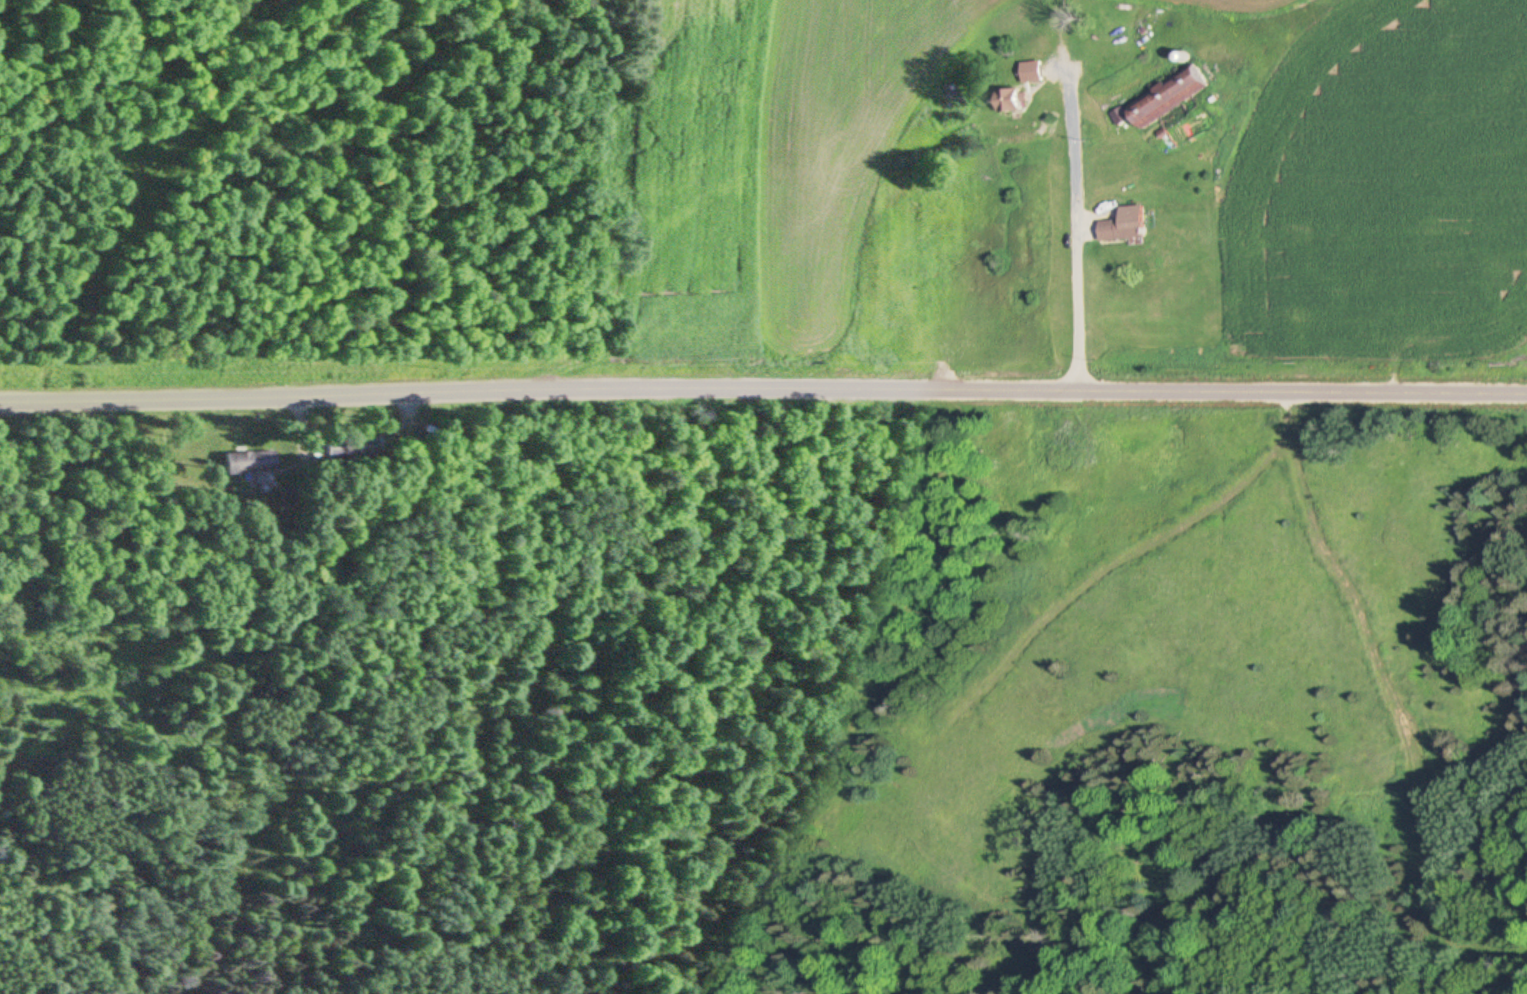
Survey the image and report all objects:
building: (1036, 72)
building: (1173, 96)
building: (1015, 101)
road: (739, 183)
road: (1073, 230)
building: (1124, 231)
road: (763, 392)
building: (246, 462)

